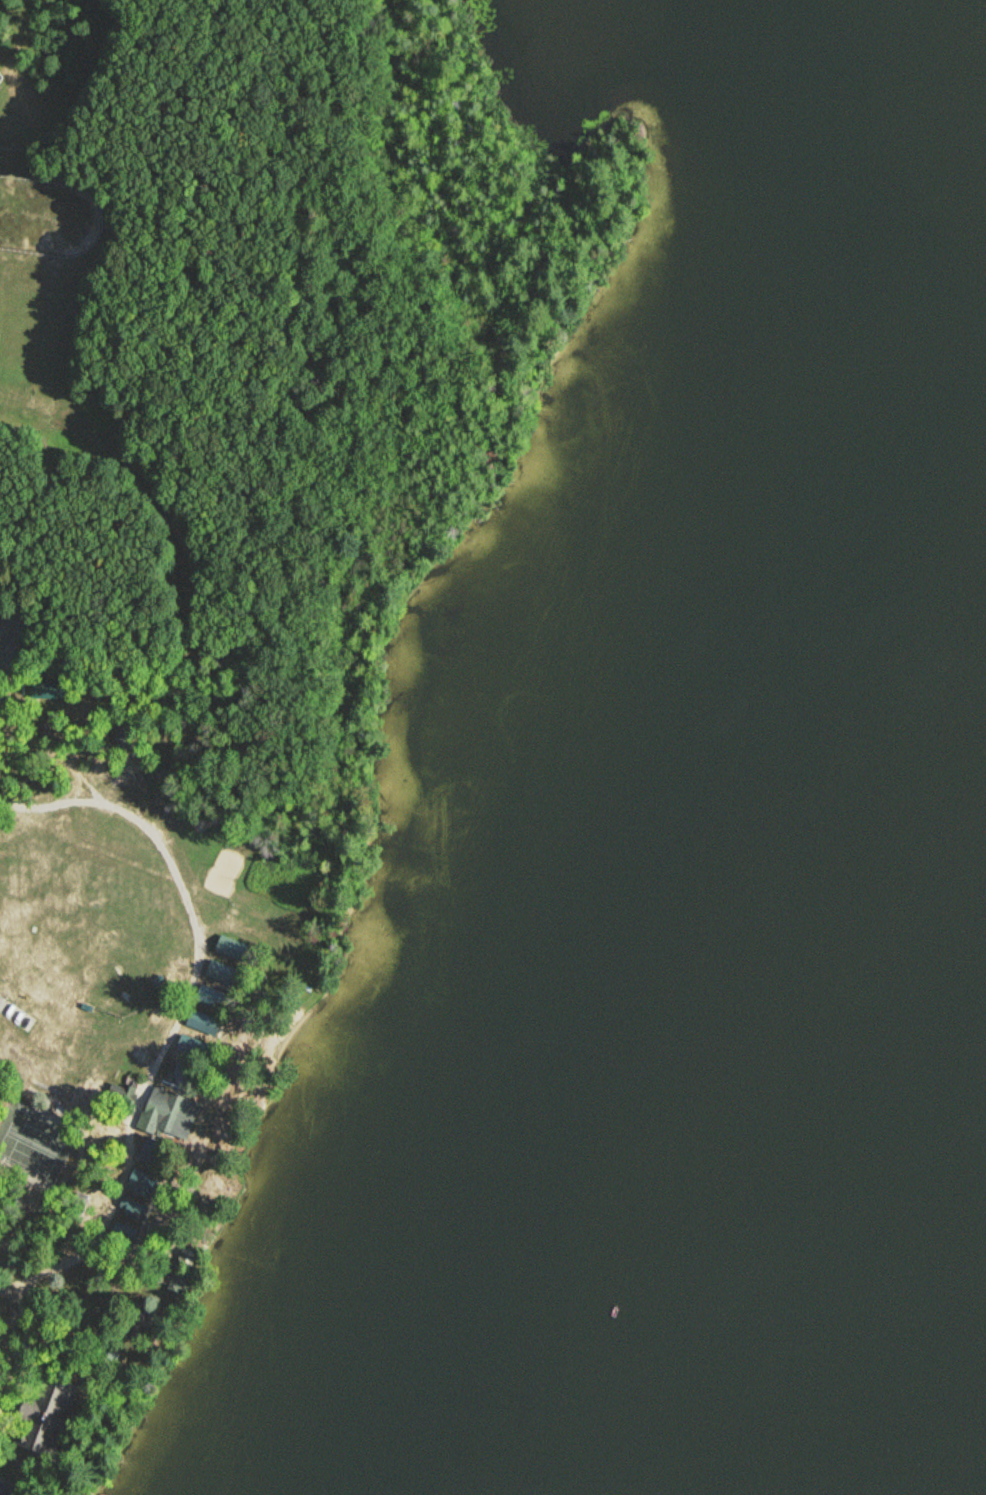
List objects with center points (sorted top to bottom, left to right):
building: (46, 689)
building: (231, 949)
building: (221, 973)
building: (208, 996)
road: (185, 1012)
building: (201, 1022)
building: (190, 1046)
building: (169, 1116)
building: (141, 1183)
building: (132, 1210)
building: (122, 1233)
building: (178, 1274)
building: (139, 1321)
building: (105, 1362)
building: (46, 1418)
building: (1, 1489)

